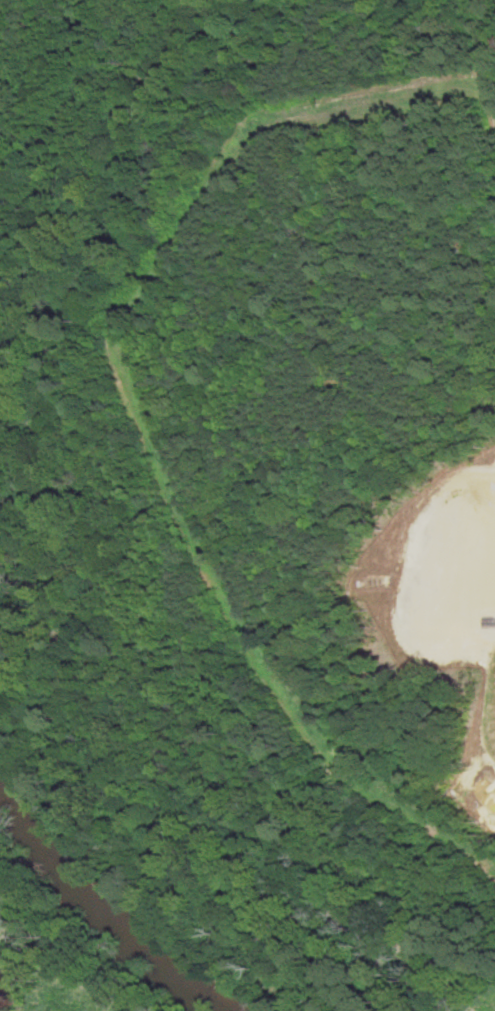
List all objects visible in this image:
river: (115, 888)

